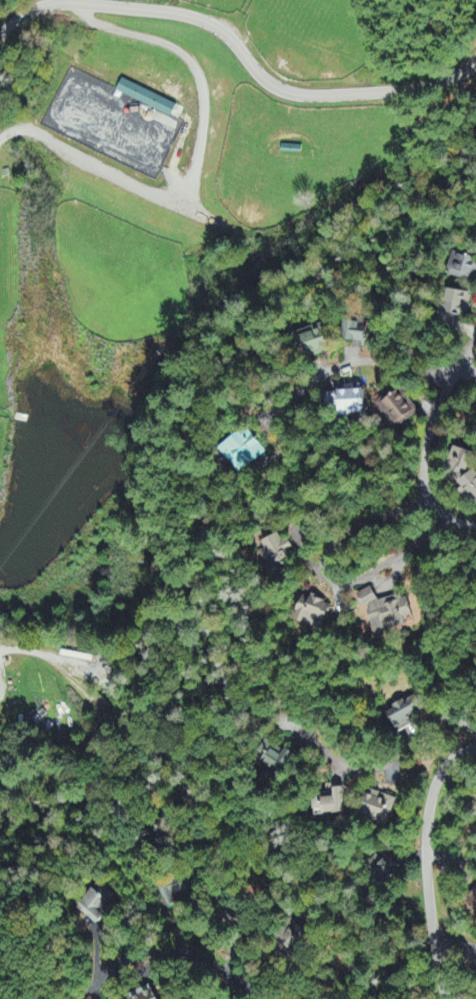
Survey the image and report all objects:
road: (238, 52)
building: (145, 99)
road: (195, 160)
building: (461, 268)
building: (454, 307)
building: (355, 335)
building: (313, 343)
road: (394, 364)
building: (351, 400)
building: (397, 409)
road: (426, 441)
building: (463, 473)
building: (277, 554)
road: (326, 578)
building: (387, 612)
building: (312, 613)
road: (15, 652)
building: (405, 715)
building: (276, 759)
road: (381, 767)
road: (459, 774)
building: (377, 807)
road: (451, 857)
road: (426, 862)
building: (384, 869)
building: (174, 894)
building: (472, 902)
building: (98, 903)
road: (455, 948)
road: (166, 953)
building: (146, 994)

